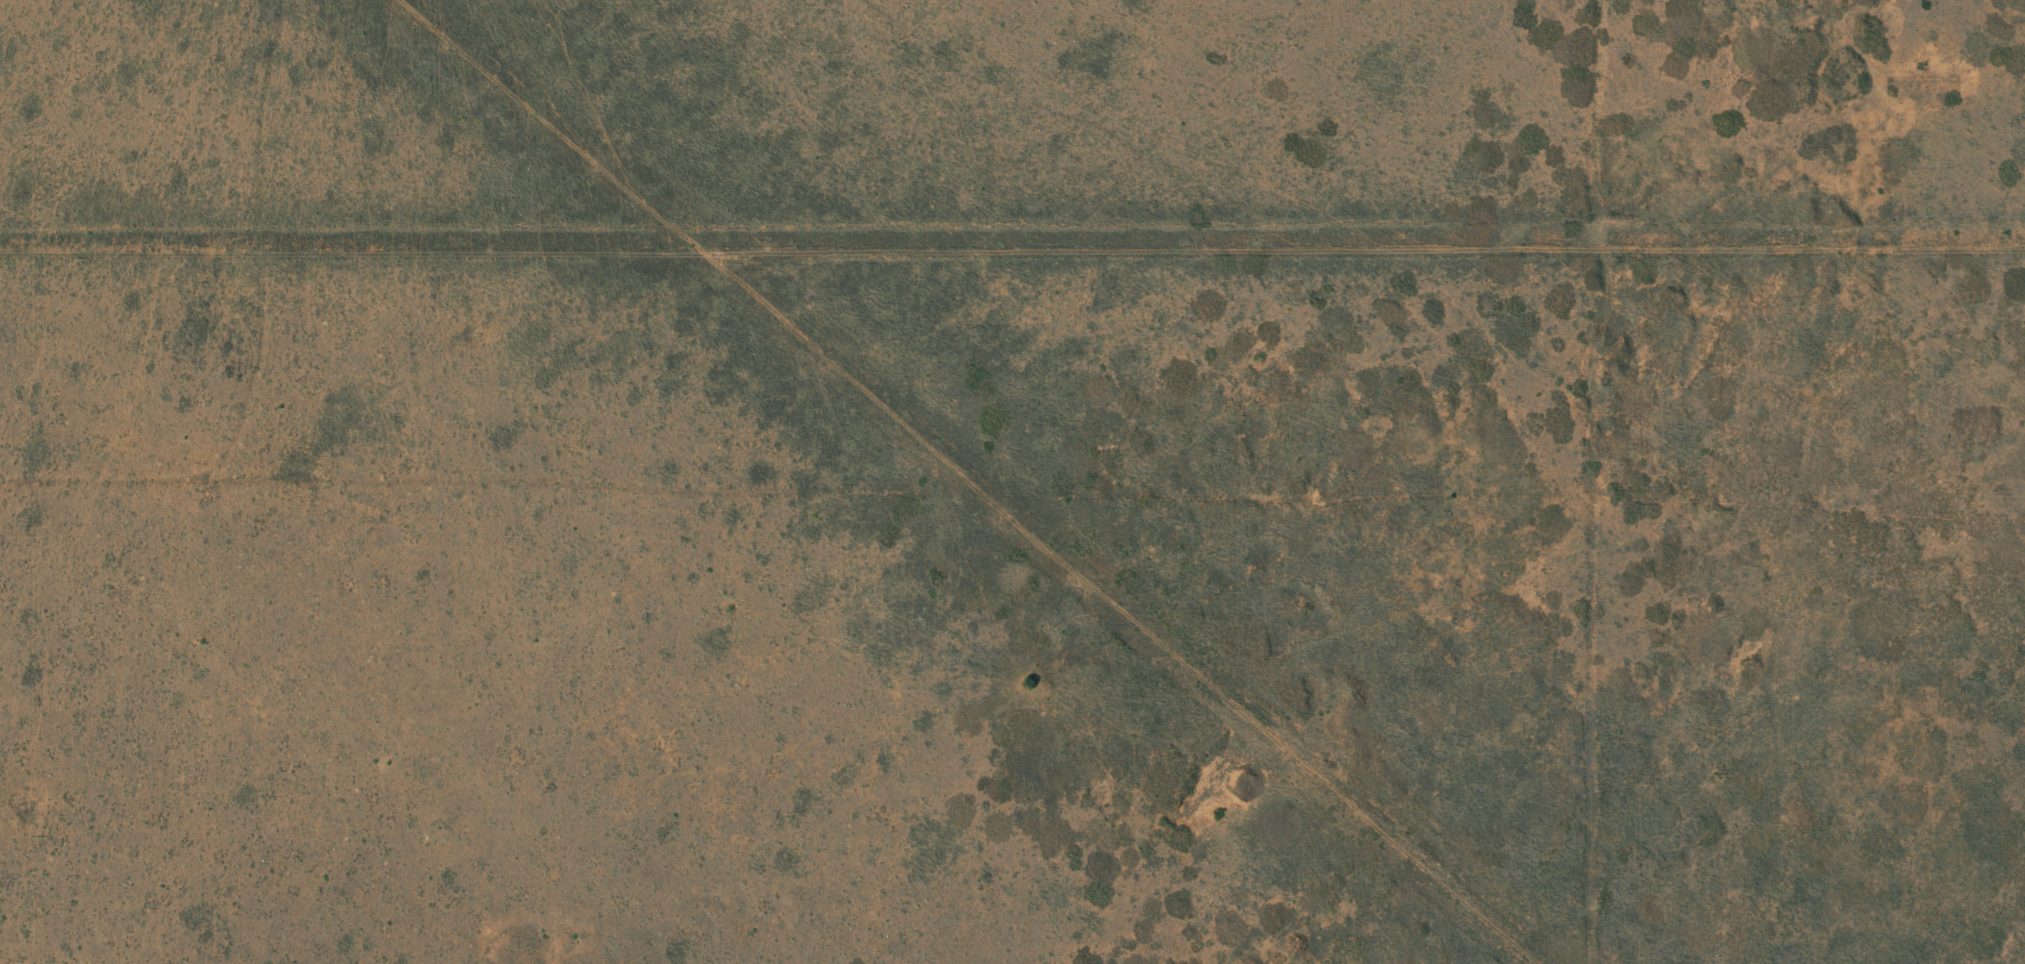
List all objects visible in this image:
road: (282, 255)
road: (1013, 513)
road: (1622, 749)

